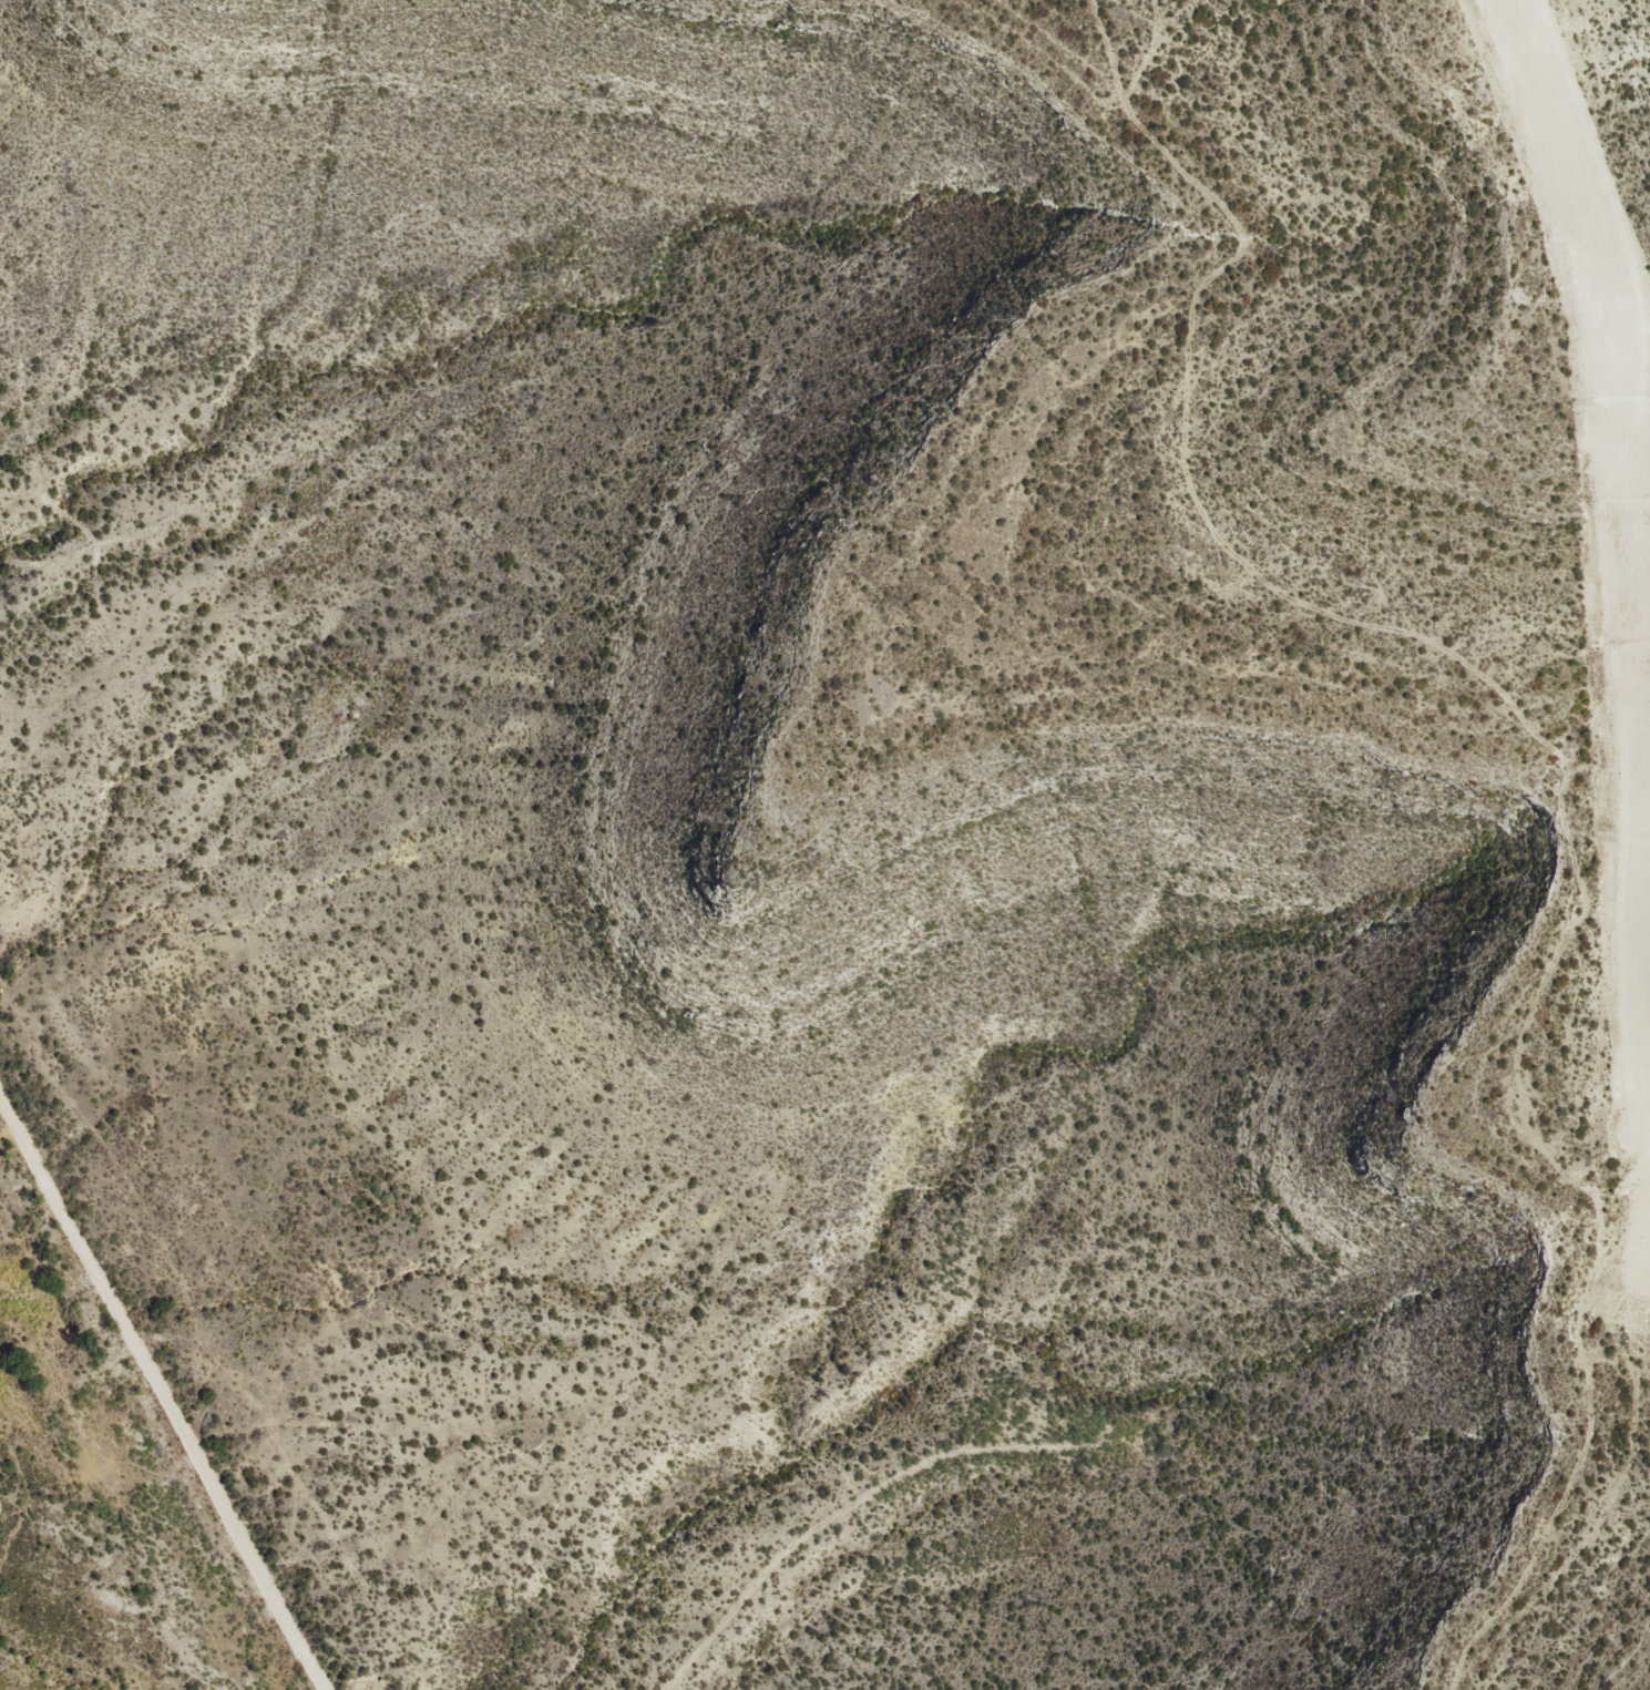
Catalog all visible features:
road: (161, 1411)

